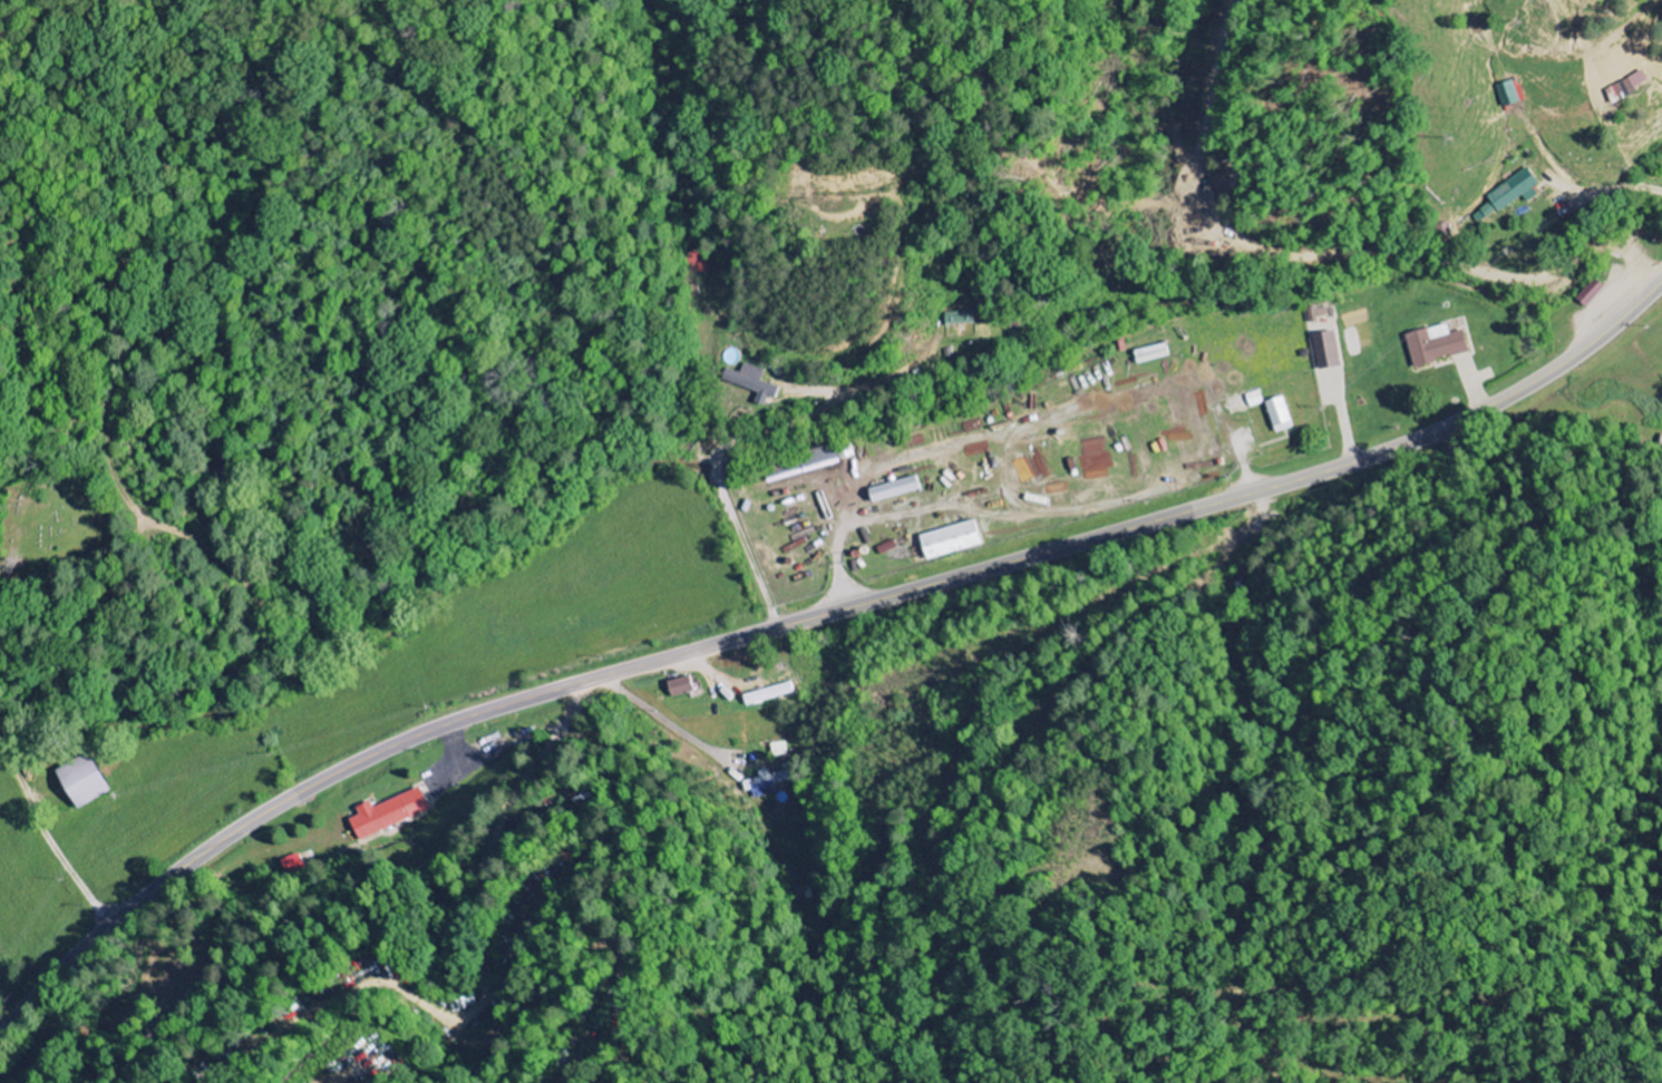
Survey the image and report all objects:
building: (1508, 94)
building: (1513, 192)
road: (1345, 228)
building: (960, 318)
building: (1431, 344)
building: (1323, 350)
building: (755, 383)
building: (1252, 399)
building: (1274, 413)
park: (52, 523)
building: (944, 540)
road: (834, 543)
road: (809, 617)
building: (673, 686)
building: (765, 694)
building: (777, 749)
building: (81, 782)
building: (760, 783)
building: (382, 813)
road: (48, 840)

